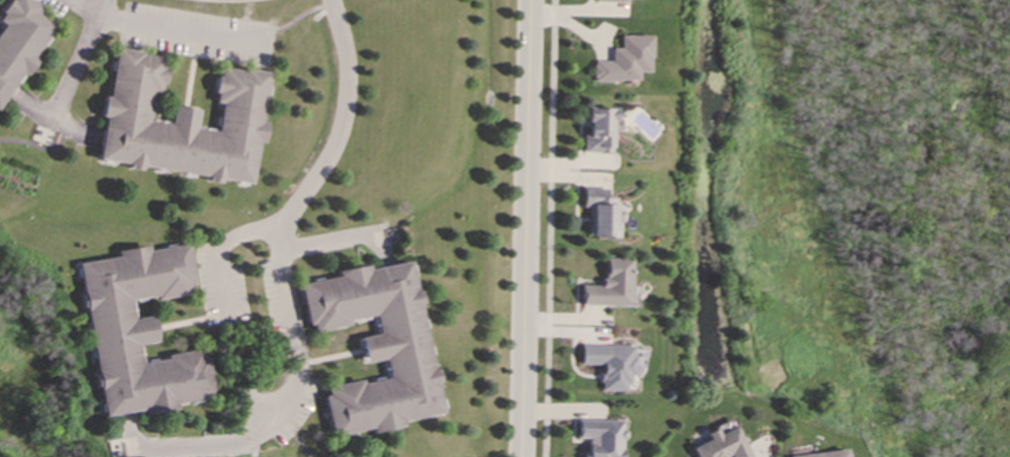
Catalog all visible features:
building: (609, 0)
road: (169, 30)
building: (19, 39)
road: (79, 57)
building: (623, 59)
building: (180, 121)
road: (337, 122)
building: (597, 129)
building: (600, 211)
road: (525, 228)
road: (547, 228)
road: (321, 241)
road: (221, 249)
building: (608, 284)
building: (138, 330)
building: (375, 346)
building: (607, 362)
road: (289, 394)
building: (598, 436)
building: (719, 444)
building: (819, 454)

